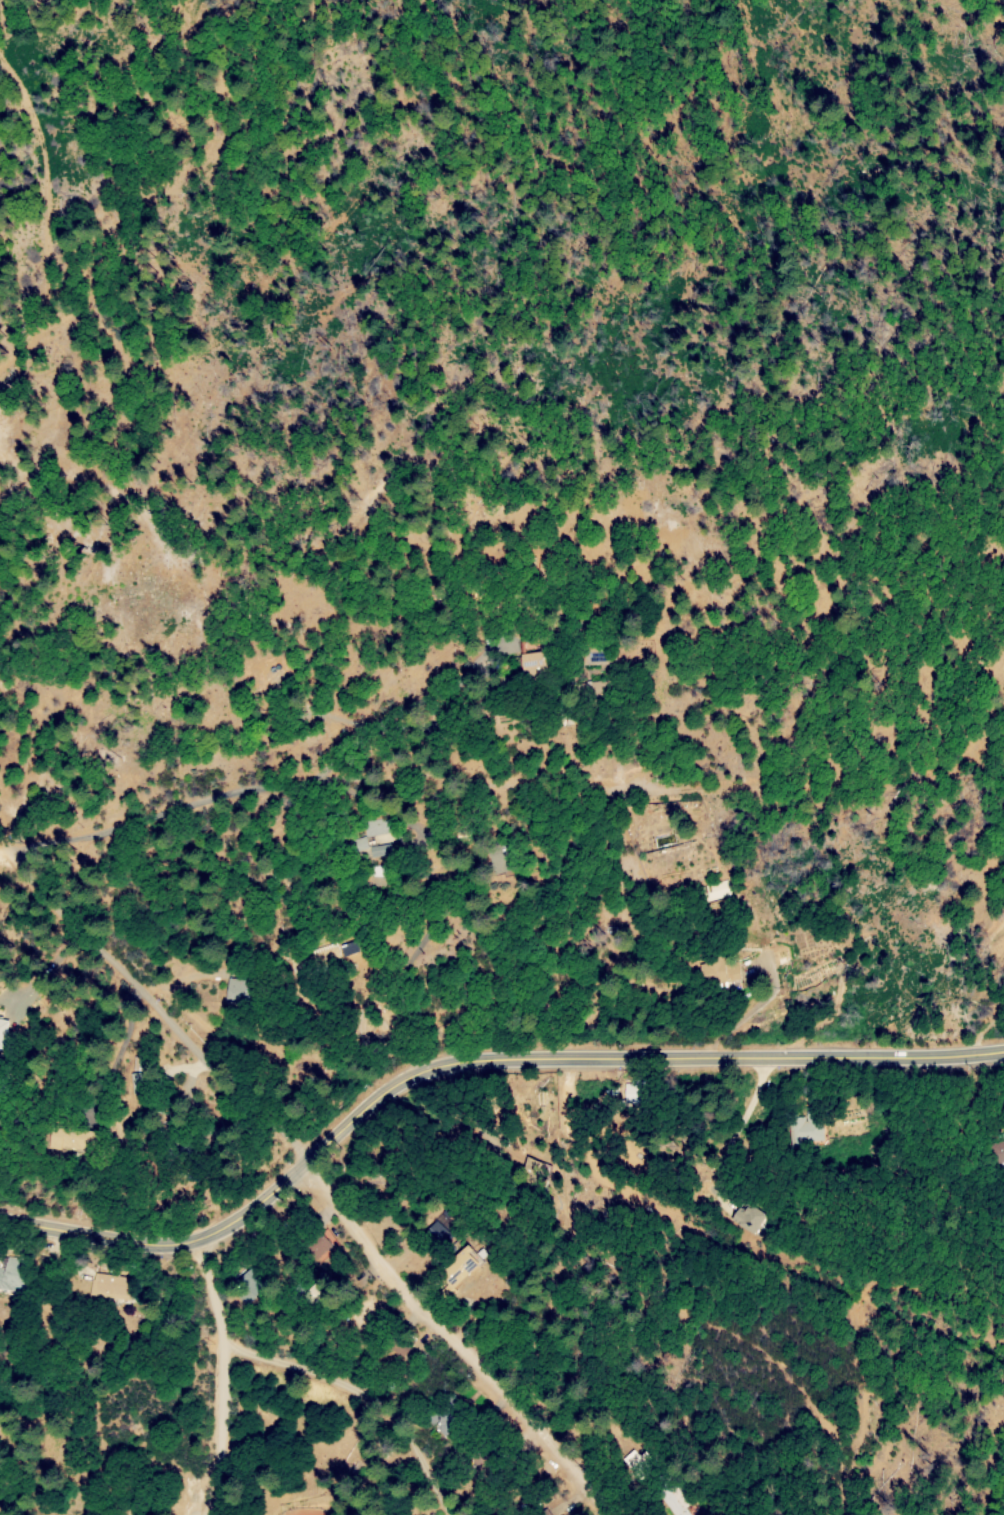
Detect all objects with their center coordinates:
road: (30, 217)
building: (540, 655)
building: (594, 688)
road: (185, 806)
road: (5, 839)
building: (355, 841)
building: (498, 859)
building: (715, 892)
building: (720, 974)
building: (237, 993)
building: (2, 1032)
road: (471, 1060)
building: (808, 1126)
road: (733, 1132)
building: (66, 1138)
building: (997, 1152)
road: (320, 1177)
building: (751, 1219)
building: (444, 1254)
building: (13, 1274)
building: (246, 1286)
building: (112, 1288)
road: (220, 1375)
road: (362, 1393)
building: (630, 1463)
building: (543, 1513)

